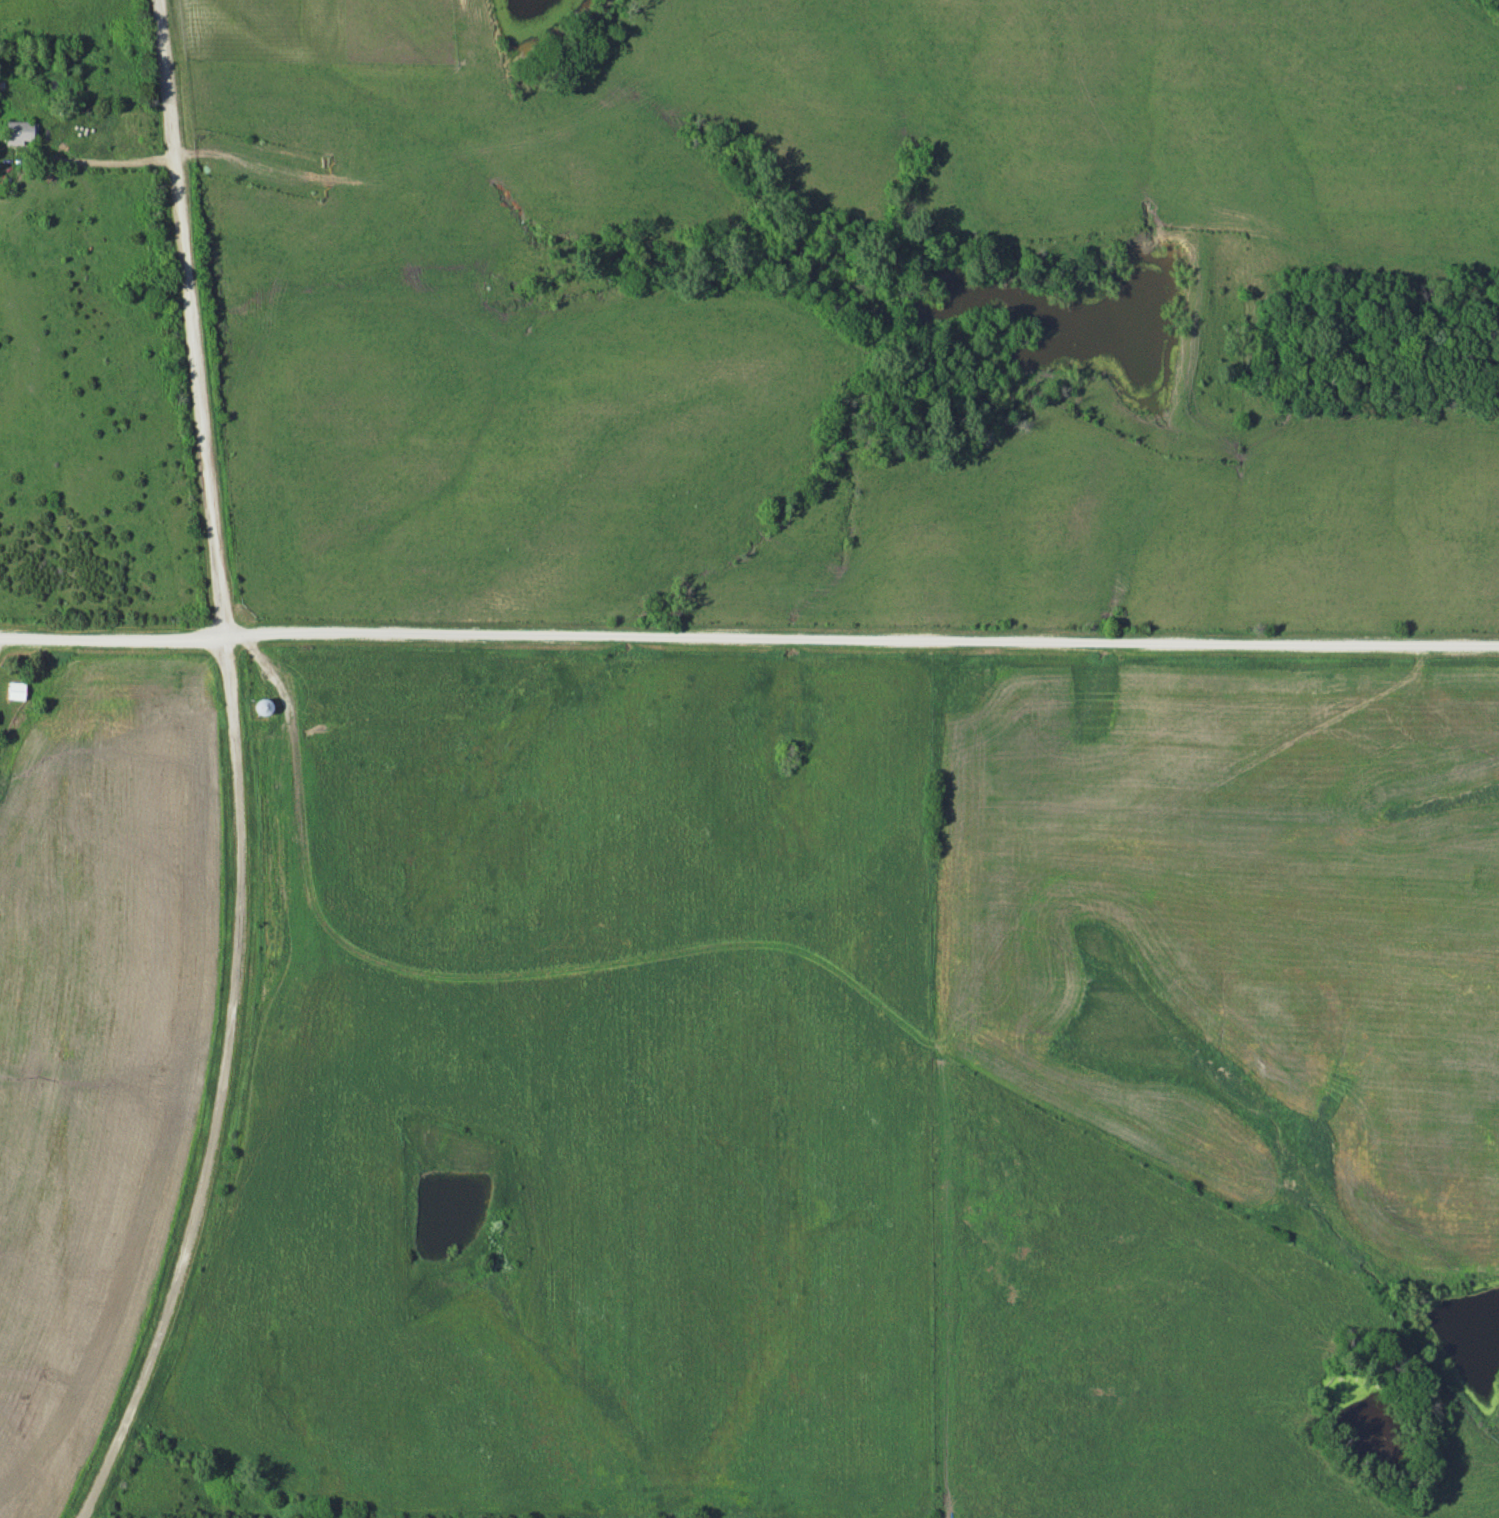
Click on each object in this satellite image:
building: (20, 132)
road: (190, 318)
road: (112, 639)
road: (861, 639)
building: (17, 690)
road: (223, 1088)

